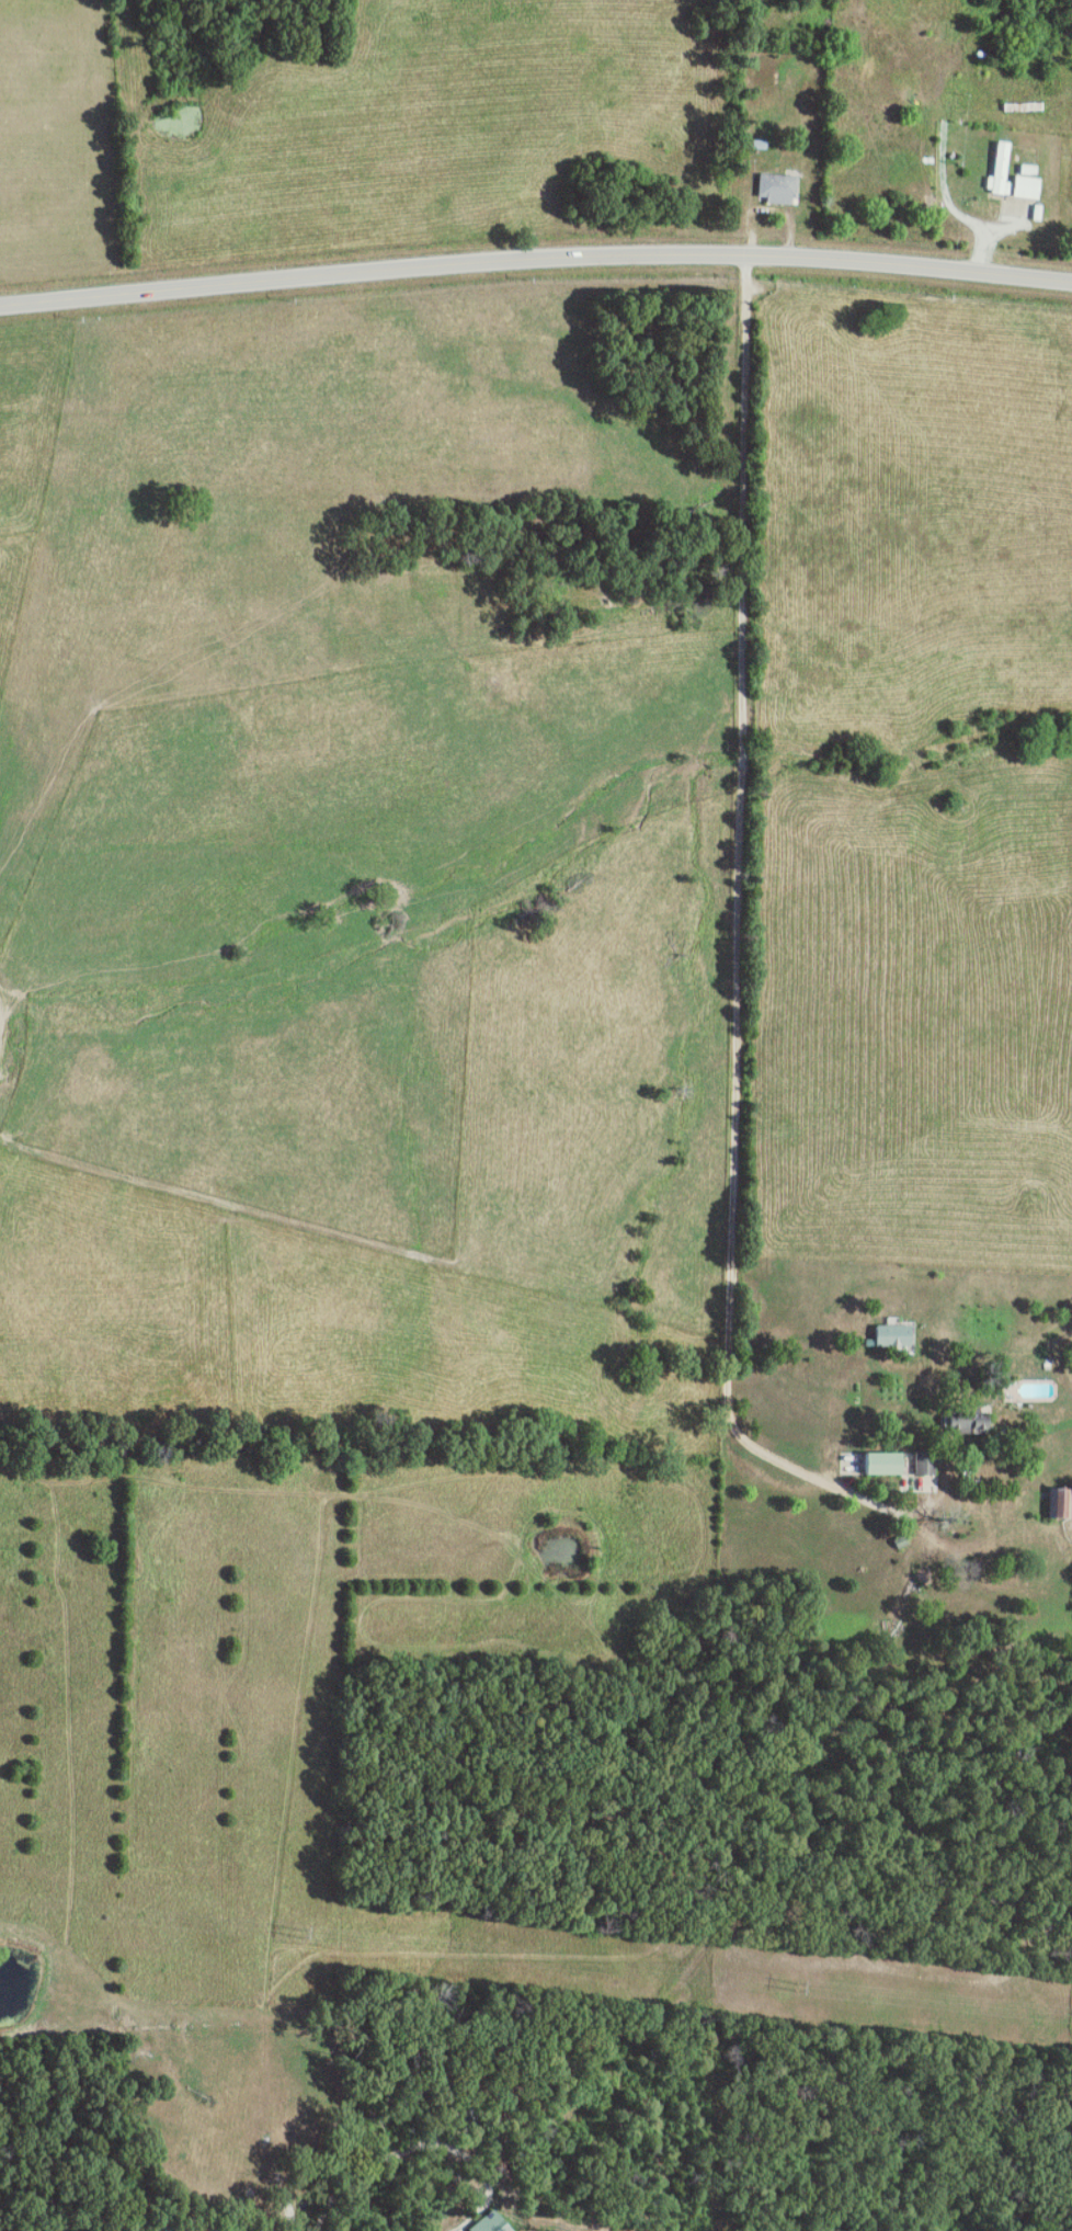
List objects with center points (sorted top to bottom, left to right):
building: (760, 144)
building: (1001, 169)
building: (1028, 186)
building: (778, 187)
road: (950, 204)
road: (536, 275)
road: (116, 1173)
building: (894, 1334)
building: (960, 1422)
building: (980, 1423)
building: (885, 1461)
building: (925, 1462)
road: (751, 1468)
building: (1060, 1502)
road: (458, 2152)
building: (490, 2222)

